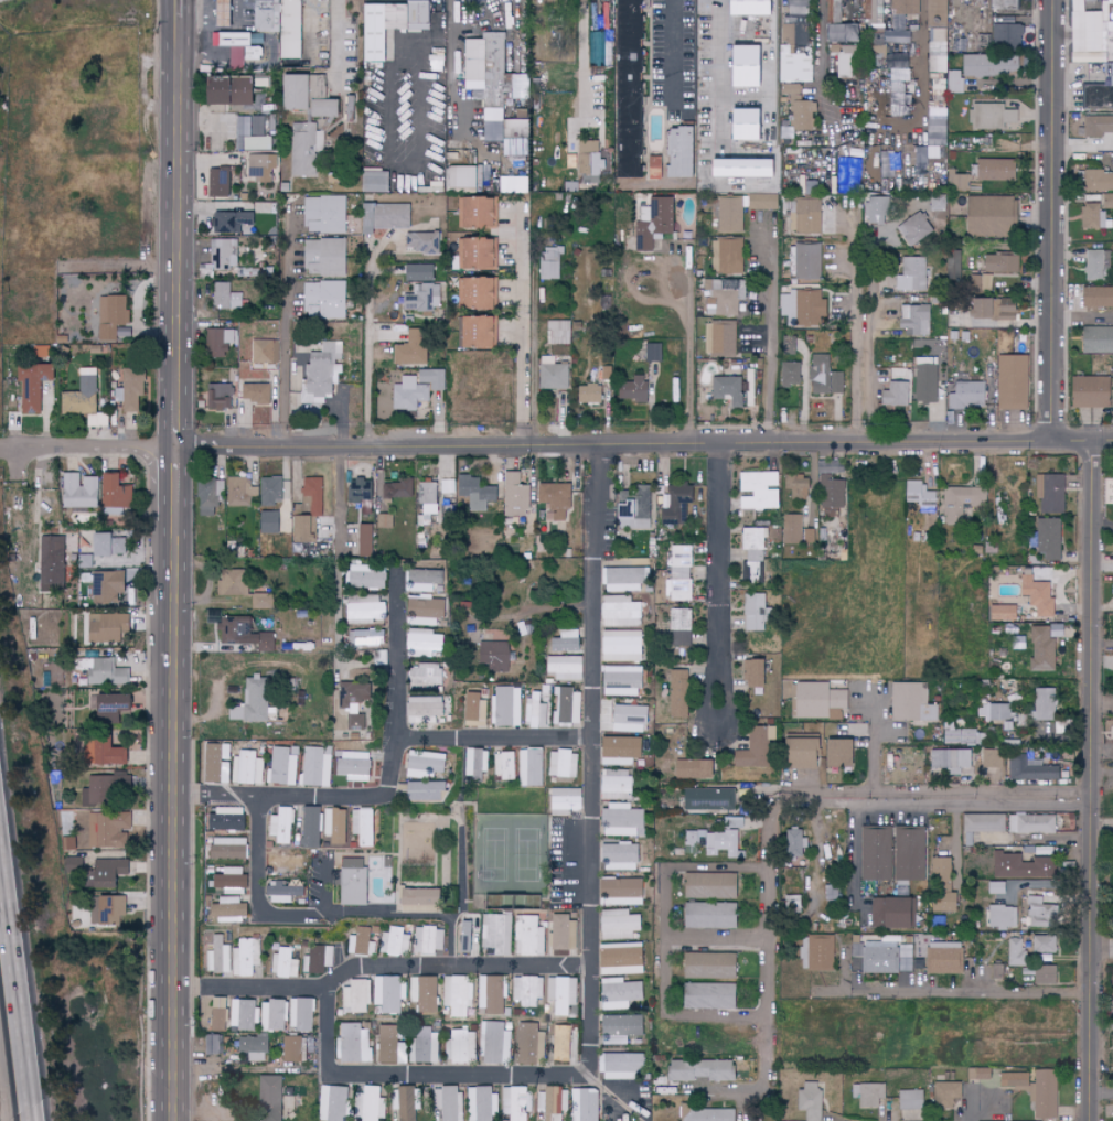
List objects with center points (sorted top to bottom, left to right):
building: (803, 0)
building: (978, 0)
building: (474, 1)
building: (554, 2)
building: (1004, 4)
building: (788, 6)
building: (903, 7)
road: (179, 9)
building: (1109, 10)
road: (243, 11)
building: (871, 11)
building: (834, 12)
building: (935, 13)
building: (417, 15)
building: (260, 19)
building: (378, 28)
building: (289, 29)
road: (311, 29)
building: (1087, 29)
building: (799, 33)
building: (1006, 35)
building: (878, 43)
road: (335, 46)
building: (934, 51)
building: (240, 55)
road: (673, 55)
road: (585, 58)
building: (844, 60)
road: (920, 64)
road: (452, 65)
building: (989, 65)
road: (178, 66)
building: (484, 67)
building: (793, 67)
road: (824, 72)
building: (899, 73)
building: (954, 82)
road: (723, 85)
building: (517, 86)
building: (319, 87)
building: (210, 90)
building: (242, 90)
building: (1099, 90)
building: (295, 91)
building: (323, 108)
building: (352, 108)
building: (799, 110)
road: (212, 115)
building: (991, 116)
building: (491, 125)
building: (252, 126)
building: (1098, 127)
building: (514, 129)
building: (934, 132)
building: (258, 143)
building: (306, 148)
building: (676, 152)
building: (935, 154)
building: (919, 160)
building: (588, 162)
building: (890, 162)
building: (627, 164)
building: (259, 166)
building: (654, 168)
building: (994, 170)
building: (855, 171)
building: (461, 176)
building: (919, 179)
building: (1098, 180)
building: (956, 181)
building: (374, 182)
building: (218, 184)
building: (512, 185)
building: (806, 185)
building: (934, 201)
building: (762, 202)
building: (1106, 202)
building: (689, 206)
building: (876, 211)
building: (473, 213)
building: (323, 214)
building: (730, 214)
building: (989, 216)
building: (806, 217)
building: (1094, 217)
building: (367, 218)
road: (1051, 220)
building: (228, 222)
building: (654, 223)
building: (224, 254)
building: (473, 254)
building: (730, 256)
building: (324, 257)
building: (807, 261)
building: (549, 263)
building: (999, 263)
building: (949, 265)
building: (1095, 265)
building: (417, 272)
building: (908, 277)
road: (176, 281)
building: (984, 282)
building: (473, 293)
building: (725, 295)
building: (225, 297)
building: (1096, 297)
building: (422, 298)
building: (324, 300)
building: (977, 308)
building: (807, 309)
building: (1004, 310)
building: (110, 315)
building: (913, 319)
road: (286, 323)
road: (859, 324)
road: (526, 328)
building: (473, 332)
building: (557, 332)
building: (719, 338)
road: (771, 338)
building: (1096, 339)
building: (222, 342)
building: (789, 345)
building: (264, 351)
road: (689, 351)
building: (407, 352)
building: (653, 353)
road: (367, 359)
building: (320, 371)
building: (790, 374)
building: (553, 376)
building: (825, 377)
building: (1112, 378)
building: (34, 381)
building: (1012, 381)
building: (87, 382)
building: (924, 384)
building: (748, 388)
building: (130, 389)
building: (417, 389)
building: (633, 389)
building: (728, 390)
road: (801, 392)
building: (1088, 392)
building: (257, 394)
building: (589, 394)
building: (893, 395)
building: (965, 395)
building: (220, 397)
building: (76, 403)
building: (702, 411)
building: (97, 421)
road: (644, 445)
road: (100, 448)
building: (759, 481)
building: (397, 488)
building: (77, 491)
building: (271, 491)
building: (360, 491)
building: (798, 491)
building: (240, 492)
building: (111, 493)
building: (473, 493)
building: (1051, 494)
building: (211, 496)
building: (312, 496)
building: (514, 496)
building: (832, 496)
building: (919, 496)
building: (19, 497)
building: (555, 499)
building: (427, 502)
building: (761, 502)
building: (961, 503)
building: (676, 505)
building: (634, 509)
building: (384, 521)
building: (269, 522)
building: (300, 529)
building: (792, 529)
building: (807, 536)
building: (1048, 539)
building: (364, 540)
building: (236, 550)
building: (751, 554)
road: (339, 556)
building: (51, 560)
building: (681, 574)
building: (363, 576)
building: (623, 580)
building: (419, 581)
building: (232, 583)
road: (721, 583)
building: (106, 586)
building: (1031, 593)
building: (261, 602)
building: (363, 612)
building: (420, 612)
building: (620, 612)
building: (753, 612)
building: (1002, 613)
building: (107, 627)
building: (681, 627)
building: (244, 635)
building: (367, 638)
building: (559, 642)
building: (420, 643)
building: (620, 646)
building: (1041, 650)
building: (493, 656)
building: (379, 658)
building: (565, 668)
building: (103, 671)
building: (753, 673)
building: (422, 676)
building: (620, 681)
building: (675, 699)
building: (816, 700)
road: (1102, 700)
building: (252, 702)
building: (911, 703)
building: (1045, 703)
building: (108, 705)
building: (505, 707)
building: (567, 707)
building: (422, 710)
building: (474, 711)
building: (536, 711)
building: (994, 712)
building: (622, 718)
building: (960, 735)
road: (497, 740)
building: (755, 748)
road: (399, 752)
building: (107, 753)
building: (800, 753)
building: (835, 753)
building: (993, 758)
building: (950, 759)
building: (217, 762)
road: (875, 762)
building: (477, 763)
building: (564, 764)
building: (422, 765)
building: (505, 765)
building: (317, 766)
building: (353, 766)
building: (283, 767)
building: (532, 767)
building: (248, 768)
building: (692, 769)
building: (1029, 769)
road: (1092, 780)
road: (173, 784)
building: (617, 785)
building: (106, 788)
building: (421, 791)
road: (215, 796)
road: (827, 796)
road: (983, 797)
building: (565, 799)
building: (708, 799)
building: (224, 820)
building: (622, 820)
building: (983, 822)
building: (1031, 824)
building: (282, 827)
building: (311, 827)
building: (362, 827)
building: (335, 828)
building: (107, 829)
building: (996, 838)
road: (956, 840)
building: (714, 843)
building: (794, 843)
road: (852, 843)
building: (228, 848)
road: (817, 853)
building: (876, 853)
building: (909, 853)
building: (620, 856)
building: (285, 861)
building: (1021, 866)
building: (283, 871)
building: (107, 872)
building: (229, 881)
building: (351, 882)
building: (710, 886)
building: (941, 886)
building: (831, 887)
building: (994, 887)
building: (621, 890)
building: (282, 893)
building: (418, 899)
building: (227, 907)
building: (107, 910)
road: (259, 912)
building: (1039, 913)
building: (887, 914)
building: (711, 916)
building: (1000, 917)
building: (619, 925)
road: (772, 929)
road: (589, 931)
building: (564, 933)
building: (496, 935)
building: (531, 936)
building: (428, 939)
building: (464, 939)
road: (719, 939)
road: (667, 940)
building: (395, 941)
building: (361, 942)
building: (1042, 944)
road: (1102, 949)
building: (822, 952)
building: (1015, 953)
building: (221, 956)
building: (246, 957)
building: (878, 957)
building: (907, 958)
building: (943, 958)
building: (318, 959)
road: (377, 959)
building: (622, 959)
road: (20, 960)
building: (285, 963)
building: (708, 966)
building: (993, 972)
building: (1042, 976)
building: (527, 990)
building: (424, 993)
building: (620, 993)
road: (954, 993)
building: (388, 994)
building: (561, 994)
building: (492, 995)
building: (355, 996)
building: (458, 996)
building: (710, 996)
building: (218, 1014)
building: (244, 1014)
building: (302, 1014)
building: (275, 1016)
building: (621, 1028)
building: (212, 1044)
building: (496, 1044)
building: (532, 1044)
building: (564, 1044)
building: (354, 1045)
building: (426, 1046)
building: (463, 1046)
building: (254, 1047)
building: (389, 1047)
building: (292, 1052)
building: (621, 1066)
building: (699, 1070)
building: (977, 1074)
building: (1013, 1080)
road: (747, 1093)
road: (1102, 1093)
building: (867, 1095)
building: (945, 1095)
building: (1044, 1095)
building: (269, 1098)
building: (555, 1100)
building: (909, 1100)
building: (809, 1101)
building: (372, 1102)
building: (450, 1102)
building: (334, 1103)
building: (408, 1103)
building: (483, 1103)
building: (518, 1103)
building: (586, 1104)
building: (708, 1114)

